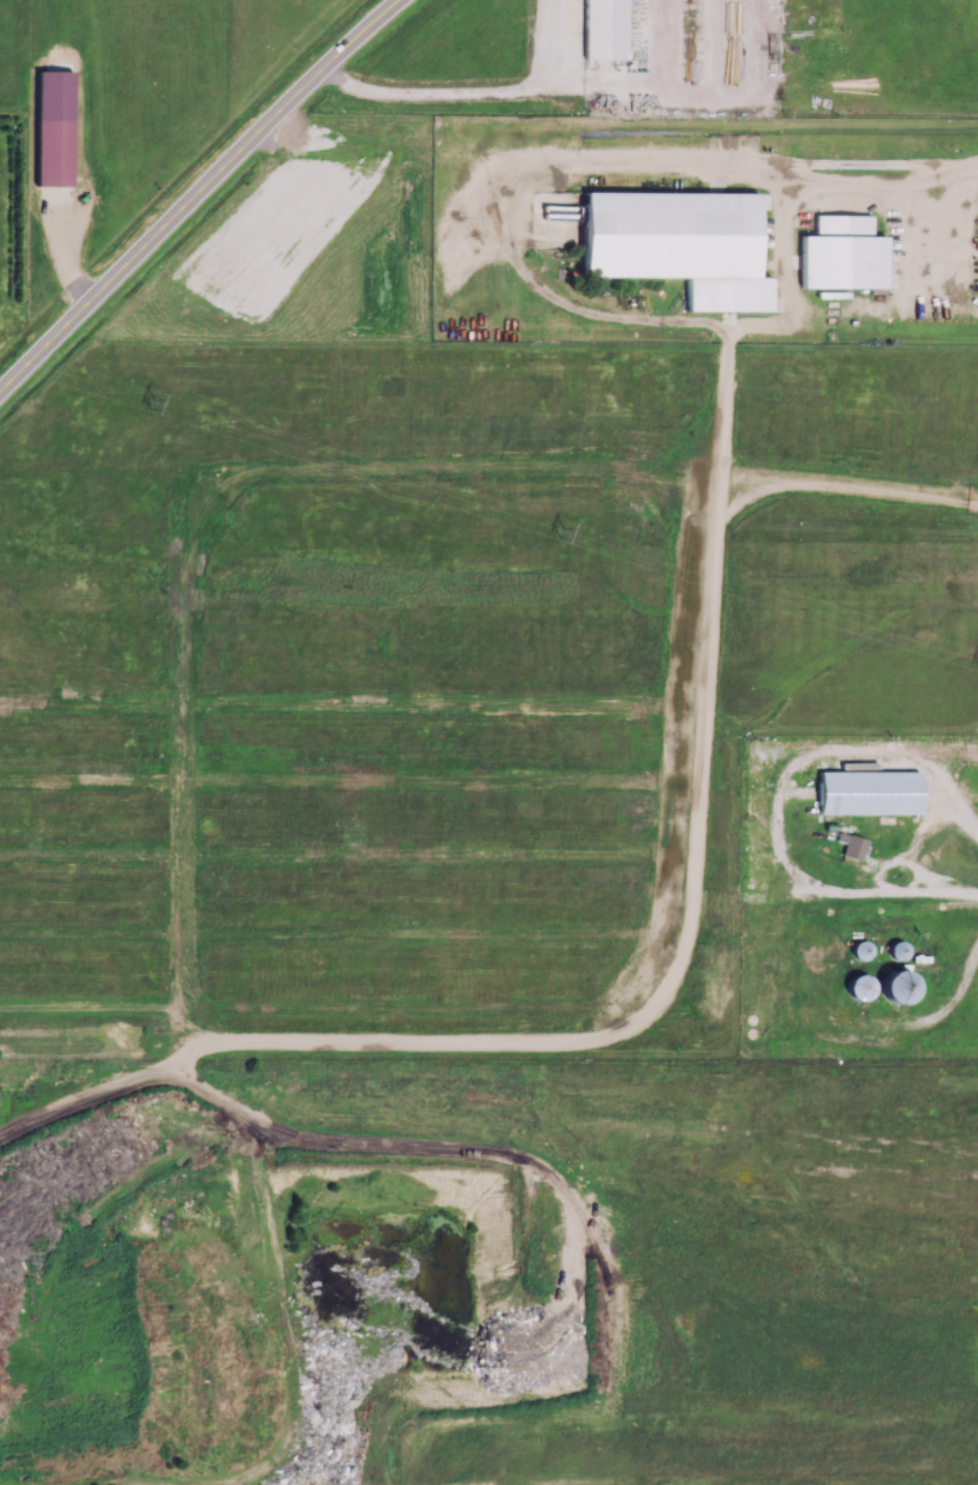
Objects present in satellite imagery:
building: (602, 29)
road: (588, 82)
building: (51, 129)
road: (693, 162)
road: (200, 196)
building: (676, 245)
building: (838, 255)
power tower: (152, 404)
power tower: (560, 533)
building: (862, 793)
building: (894, 950)
building: (859, 952)
building: (854, 987)
building: (890, 987)
road: (659, 1010)

